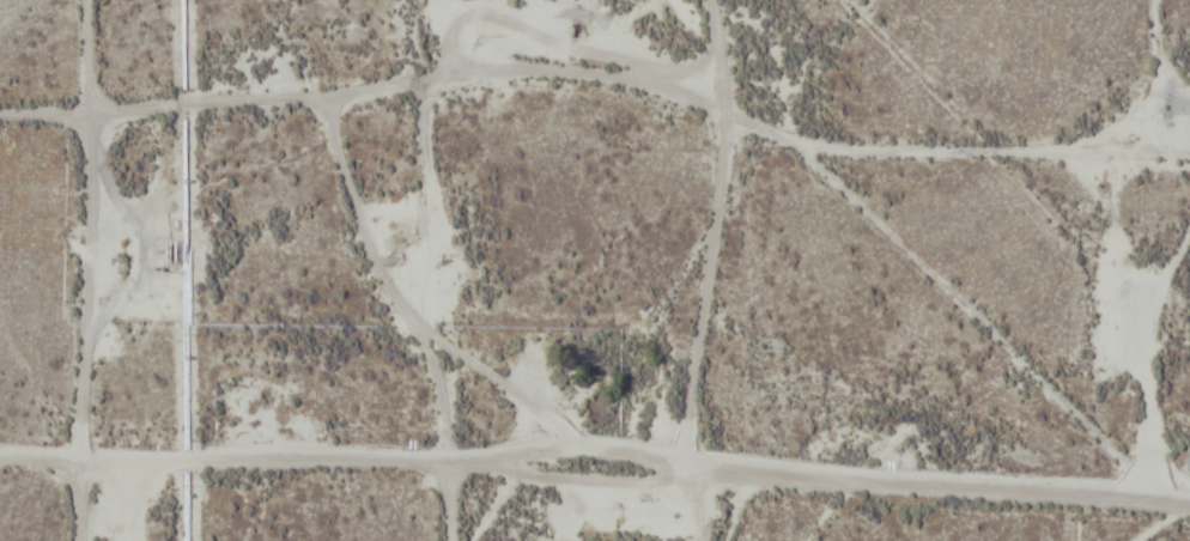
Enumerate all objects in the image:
road: (800, 141)
road: (432, 269)
road: (93, 270)
road: (994, 335)
road: (595, 469)

